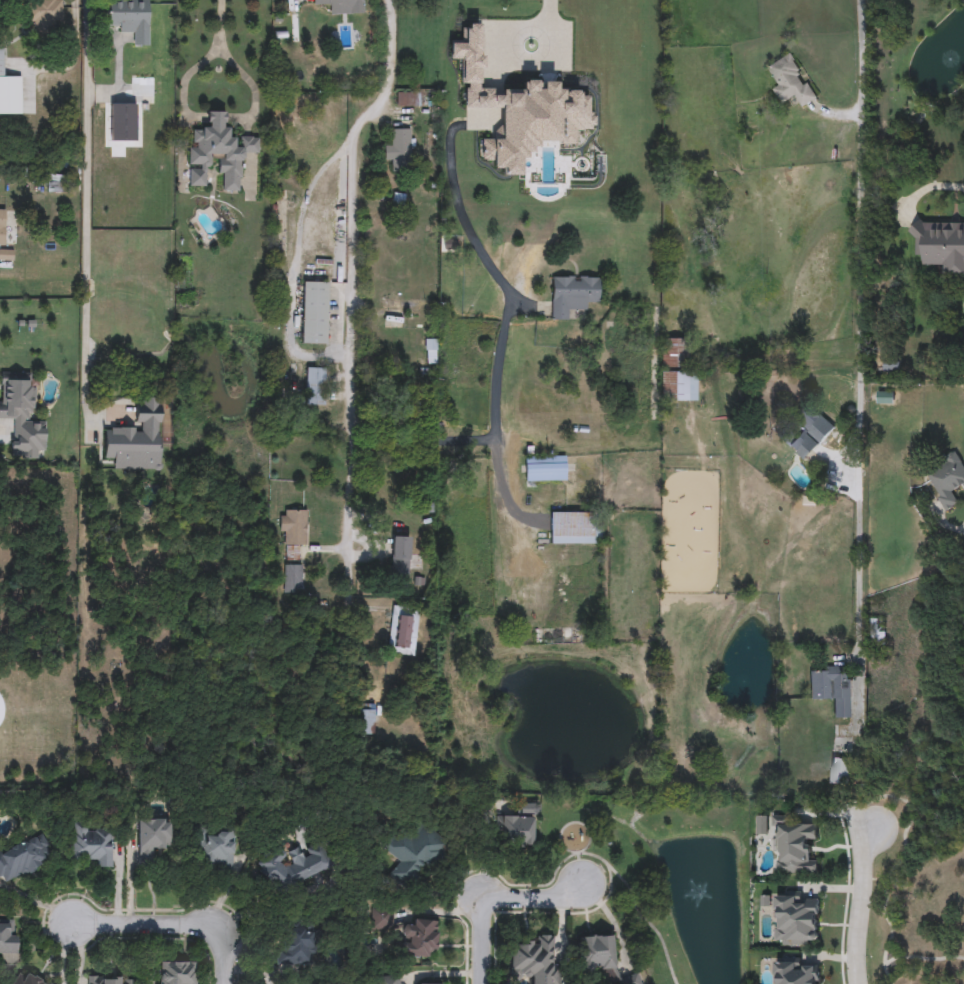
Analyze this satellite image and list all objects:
building: (341, 6)
building: (44, 15)
building: (130, 20)
road: (204, 24)
road: (85, 46)
building: (872, 78)
building: (791, 82)
building: (9, 92)
building: (407, 99)
road: (839, 111)
building: (399, 150)
building: (218, 152)
road: (454, 156)
building: (57, 184)
road: (922, 193)
building: (398, 202)
building: (2, 226)
building: (941, 248)
road: (85, 258)
road: (346, 268)
road: (295, 272)
road: (518, 295)
building: (572, 295)
building: (403, 304)
building: (314, 313)
road: (339, 320)
building: (674, 353)
road: (864, 372)
building: (315, 386)
building: (675, 386)
building: (21, 414)
building: (807, 429)
building: (136, 439)
building: (544, 468)
building: (947, 478)
building: (575, 528)
building: (292, 529)
building: (399, 556)
building: (293, 578)
building: (403, 630)
building: (832, 688)
building: (366, 720)
building: (840, 771)
building: (762, 824)
building: (517, 829)
building: (152, 838)
building: (92, 845)
building: (794, 846)
building: (213, 847)
building: (413, 852)
building: (23, 857)
building: (291, 868)
road: (490, 900)
road: (859, 902)
building: (382, 919)
building: (795, 919)
road: (144, 923)
building: (8, 938)
building: (418, 938)
building: (294, 945)
road: (221, 955)
building: (602, 958)
building: (533, 961)
building: (794, 972)
building: (176, 973)
building: (31, 980)
building: (108, 980)
building: (388, 980)

